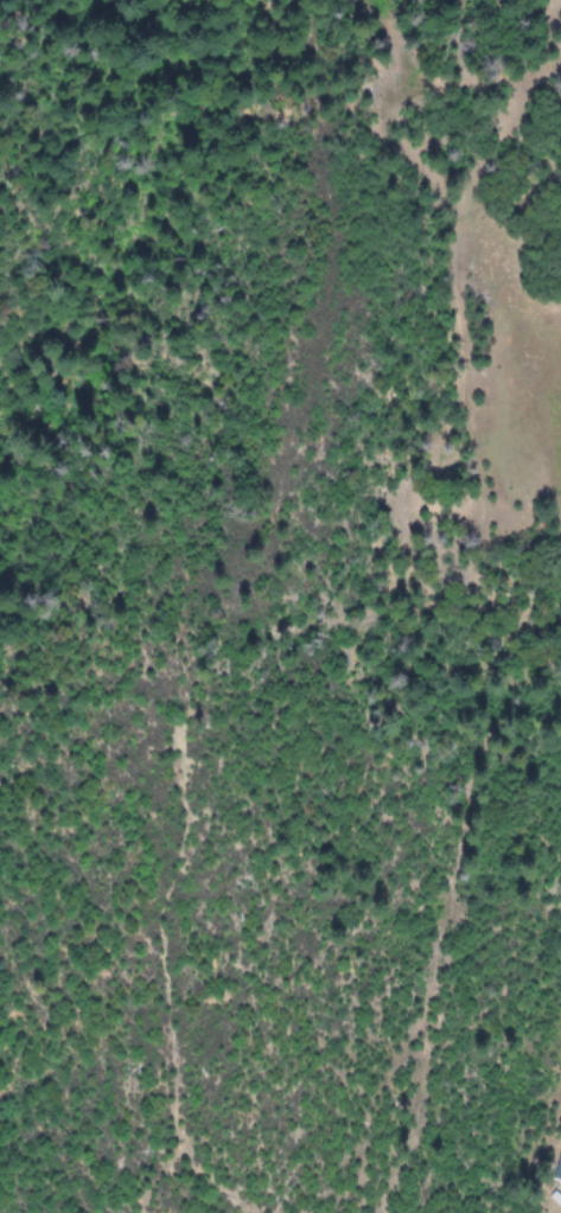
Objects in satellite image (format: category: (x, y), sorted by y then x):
building: (557, 1169)

